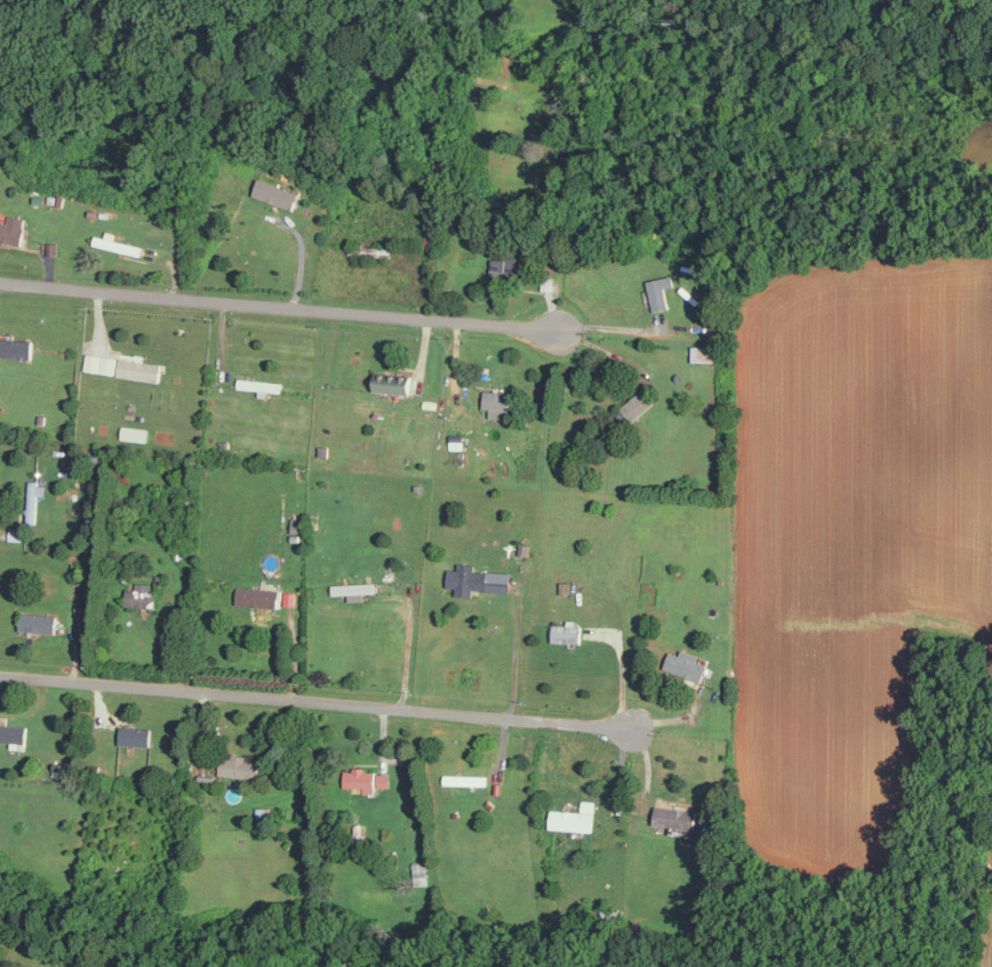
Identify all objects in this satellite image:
building: (277, 193)
road: (265, 223)
building: (14, 229)
building: (116, 243)
building: (500, 266)
building: (548, 282)
building: (660, 290)
road: (279, 308)
road: (609, 326)
building: (17, 347)
building: (704, 353)
building: (102, 362)
building: (141, 369)
building: (394, 382)
building: (262, 384)
building: (498, 402)
building: (638, 405)
building: (135, 433)
building: (457, 442)
building: (35, 499)
building: (297, 524)
building: (468, 578)
building: (356, 588)
building: (142, 595)
building: (259, 596)
building: (358, 596)
building: (40, 622)
building: (568, 632)
road: (411, 641)
road: (516, 651)
building: (687, 664)
road: (316, 702)
building: (14, 732)
building: (137, 735)
building: (240, 766)
building: (367, 779)
building: (467, 779)
building: (575, 817)
building: (676, 817)
building: (420, 872)

